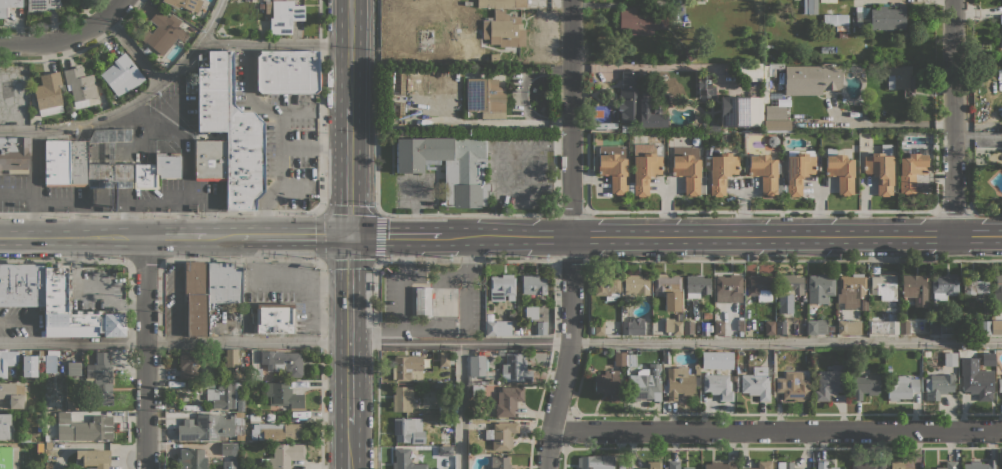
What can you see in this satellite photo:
building: (700, 0)
building: (501, 3)
building: (186, 4)
building: (8, 5)
building: (41, 5)
building: (261, 6)
building: (810, 6)
road: (113, 9)
building: (283, 15)
building: (859, 15)
building: (887, 17)
building: (834, 19)
building: (641, 20)
building: (504, 29)
building: (1001, 30)
building: (163, 32)
building: (842, 33)
road: (55, 40)
road: (272, 43)
road: (132, 49)
building: (851, 51)
building: (691, 52)
road: (349, 54)
building: (466, 55)
building: (494, 58)
building: (286, 70)
building: (121, 74)
building: (898, 77)
building: (811, 80)
building: (705, 85)
building: (79, 86)
building: (765, 89)
building: (48, 93)
building: (485, 97)
building: (102, 99)
road: (132, 101)
building: (637, 102)
building: (740, 111)
building: (74, 115)
building: (895, 117)
road: (953, 117)
building: (775, 118)
road: (892, 123)
building: (387, 125)
building: (712, 125)
building: (230, 128)
road: (280, 130)
road: (978, 137)
road: (314, 146)
building: (854, 146)
building: (14, 154)
road: (187, 154)
building: (209, 159)
building: (87, 162)
building: (449, 166)
building: (614, 167)
building: (644, 168)
building: (687, 168)
building: (880, 169)
building: (797, 170)
building: (156, 171)
road: (349, 171)
building: (721, 171)
building: (910, 171)
building: (841, 172)
building: (766, 173)
road: (376, 202)
road: (415, 206)
road: (320, 210)
road: (264, 211)
road: (294, 234)
traffic signals: (349, 234)
road: (395, 234)
road: (222, 235)
road: (570, 235)
road: (721, 235)
road: (71, 236)
road: (174, 236)
road: (404, 253)
road: (145, 259)
road: (241, 259)
road: (794, 259)
road: (64, 260)
road: (465, 260)
road: (570, 260)
building: (975, 283)
building: (21, 284)
building: (636, 284)
building: (792, 284)
building: (533, 285)
building: (697, 285)
road: (92, 286)
building: (607, 286)
building: (667, 286)
building: (760, 286)
building: (944, 286)
building: (502, 287)
building: (820, 287)
building: (729, 288)
building: (850, 289)
building: (915, 289)
building: (208, 290)
building: (997, 290)
road: (321, 300)
road: (349, 300)
road: (403, 300)
building: (423, 301)
building: (863, 302)
building: (892, 302)
building: (802, 307)
building: (74, 310)
building: (531, 312)
building: (707, 315)
building: (274, 318)
building: (674, 325)
building: (740, 325)
building: (496, 326)
building: (632, 326)
building: (816, 326)
building: (847, 326)
building: (904, 326)
building: (996, 326)
building: (541, 327)
building: (688, 327)
building: (718, 327)
building: (768, 327)
building: (780, 327)
building: (935, 327)
building: (985, 327)
building: (597, 328)
building: (831, 328)
road: (453, 330)
building: (525, 331)
building: (515, 332)
road: (175, 341)
road: (675, 341)
road: (145, 352)
building: (37, 353)
building: (927, 353)
building: (231, 357)
building: (619, 358)
building: (631, 358)
building: (988, 358)
building: (445, 359)
building: (950, 359)
building: (50, 360)
building: (7, 361)
building: (283, 362)
building: (480, 362)
building: (188, 363)
road: (377, 364)
building: (73, 368)
building: (407, 368)
building: (516, 368)
building: (696, 368)
building: (234, 374)
building: (255, 374)
building: (976, 379)
building: (98, 381)
building: (678, 382)
building: (829, 382)
building: (606, 383)
building: (645, 383)
building: (864, 385)
building: (939, 385)
building: (1000, 385)
building: (717, 386)
building: (755, 386)
building: (792, 386)
building: (902, 387)
building: (477, 391)
building: (12, 394)
building: (282, 395)
road: (350, 395)
building: (226, 396)
building: (402, 398)
building: (508, 400)
road: (460, 405)
building: (445, 408)
building: (445, 420)
building: (6, 426)
building: (84, 427)
building: (209, 427)
building: (408, 430)
road: (775, 430)
building: (277, 431)
building: (503, 435)
road: (350, 446)
building: (40, 447)
building: (226, 449)
building: (479, 450)
building: (445, 451)
building: (283, 456)
building: (8, 457)
building: (94, 458)
building: (193, 459)
building: (405, 460)
building: (499, 462)
building: (595, 462)
building: (867, 464)
building: (621, 465)
building: (652, 465)
building: (673, 465)
building: (720, 465)
building: (763, 465)
building: (785, 465)
building: (823, 465)
building: (897, 465)
building: (948, 465)
building: (979, 465)
building: (1001, 465)
building: (688, 468)

